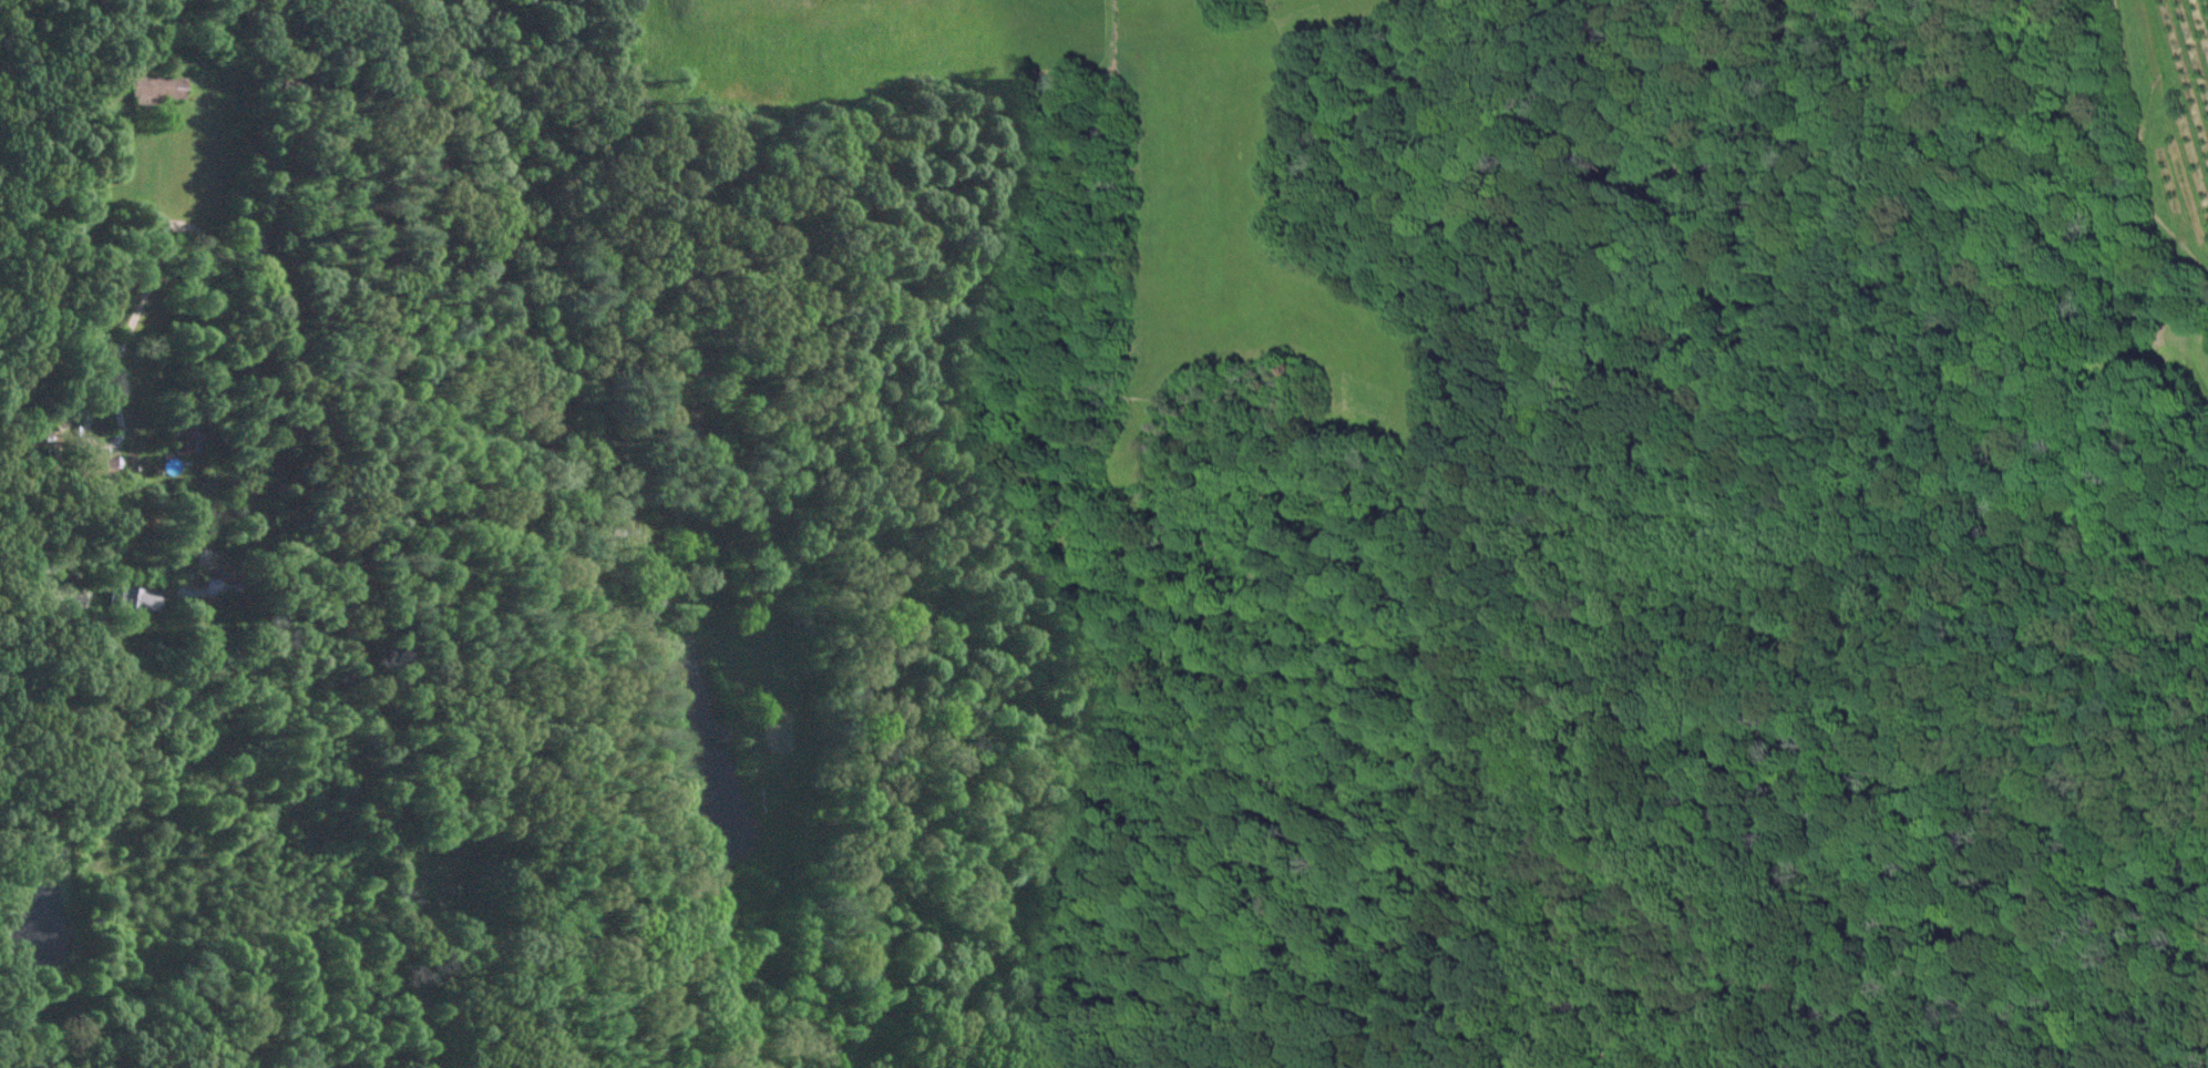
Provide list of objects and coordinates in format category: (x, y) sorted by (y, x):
building: (155, 85)
road: (151, 264)
road: (496, 310)
building: (178, 437)
building: (95, 468)
road: (335, 532)
building: (619, 532)
building: (131, 599)

